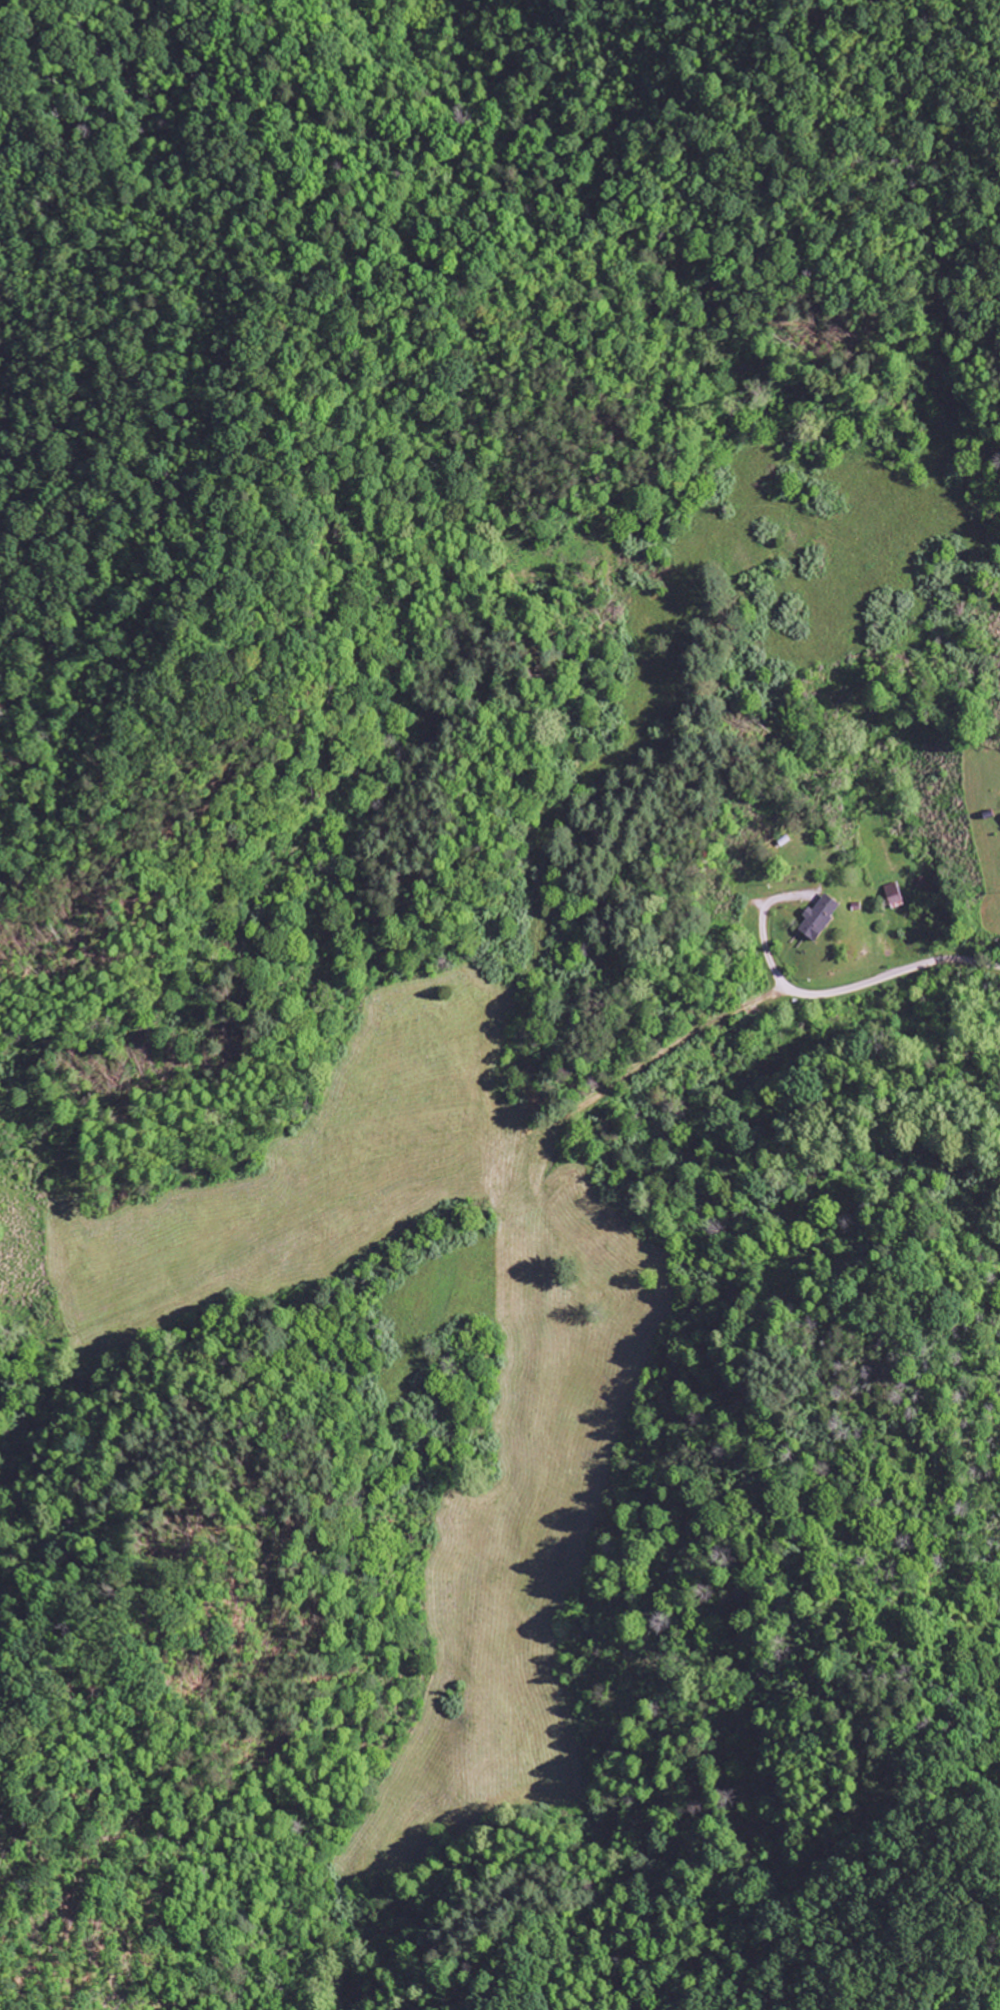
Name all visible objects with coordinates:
building: (892, 894)
building: (820, 919)
road: (887, 976)

